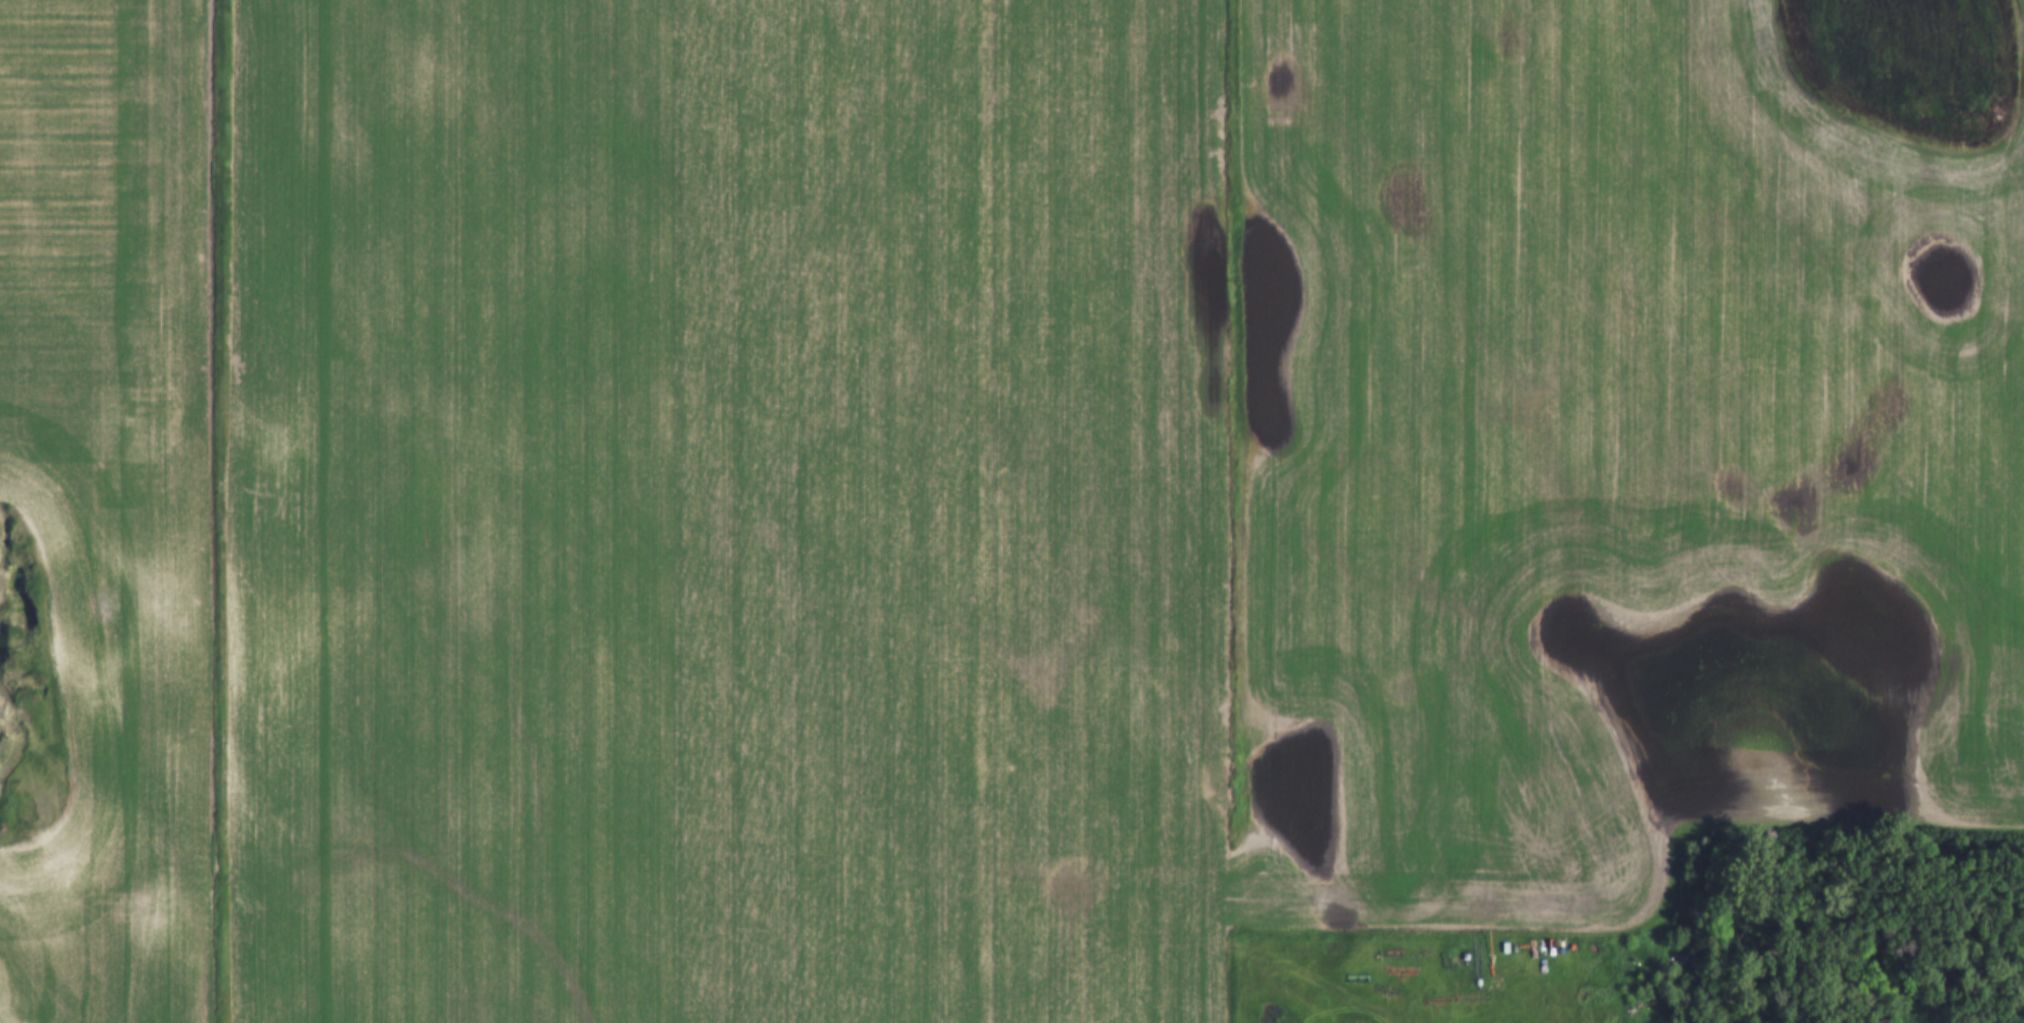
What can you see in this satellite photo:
quarry: (30, 693)

